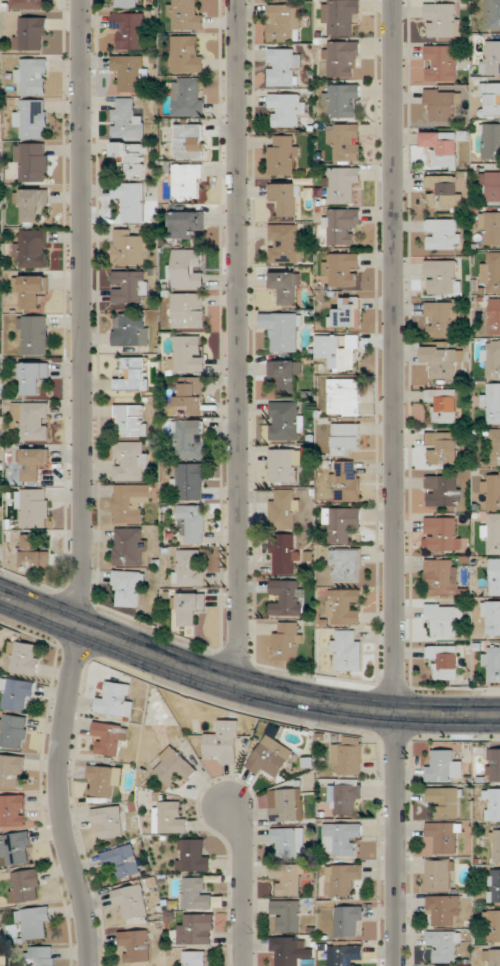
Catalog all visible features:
building: (123, 3)
building: (29, 4)
building: (185, 14)
building: (492, 14)
building: (339, 16)
building: (442, 20)
building: (284, 22)
building: (130, 29)
building: (31, 33)
building: (187, 53)
building: (490, 57)
building: (341, 58)
building: (440, 63)
building: (284, 67)
building: (132, 72)
building: (32, 76)
building: (188, 96)
building: (342, 99)
building: (491, 99)
building: (443, 105)
building: (286, 109)
building: (32, 117)
building: (126, 119)
building: (189, 141)
building: (345, 141)
building: (491, 141)
building: (441, 148)
building: (283, 156)
building: (132, 158)
building: (32, 162)
building: (188, 181)
building: (341, 184)
building: (490, 185)
building: (443, 191)
building: (285, 198)
building: (131, 200)
building: (30, 204)
building: (186, 223)
building: (341, 225)
building: (489, 228)
building: (443, 234)
building: (285, 243)
building: (129, 247)
building: (32, 248)
building: (186, 269)
building: (342, 269)
building: (491, 273)
building: (442, 276)
building: (130, 286)
building: (286, 286)
building: (32, 289)
building: (188, 310)
building: (346, 313)
building: (494, 316)
building: (441, 319)
building: (130, 329)
building: (283, 330)
building: (33, 335)
road: (239, 341)
building: (342, 351)
building: (187, 353)
road: (395, 356)
building: (492, 359)
building: (442, 361)
building: (134, 374)
building: (286, 374)
building: (33, 376)
building: (189, 396)
building: (344, 397)
building: (492, 403)
building: (443, 404)
building: (131, 419)
building: (32, 420)
building: (285, 420)
building: (345, 438)
building: (189, 439)
building: (495, 446)
building: (442, 447)
building: (130, 460)
building: (30, 463)
building: (285, 465)
building: (189, 481)
building: (346, 481)
road: (82, 485)
building: (442, 491)
building: (492, 491)
building: (130, 502)
building: (33, 508)
building: (283, 509)
building: (193, 522)
building: (342, 523)
building: (492, 533)
building: (441, 534)
building: (128, 546)
building: (34, 552)
building: (284, 553)
building: (346, 564)
building: (188, 568)
building: (495, 576)
building: (441, 577)
building: (128, 588)
building: (287, 597)
building: (189, 607)
building: (344, 607)
building: (444, 618)
building: (491, 618)
building: (288, 641)
building: (347, 650)
building: (24, 657)
building: (444, 661)
building: (492, 662)
road: (243, 685)
building: (17, 694)
building: (117, 698)
building: (13, 730)
building: (108, 738)
building: (222, 742)
building: (348, 756)
building: (270, 758)
building: (493, 765)
building: (175, 766)
building: (443, 766)
building: (11, 770)
building: (104, 780)
building: (345, 796)
building: (446, 801)
building: (286, 804)
building: (492, 804)
building: (13, 812)
building: (170, 817)
building: (109, 821)
building: (446, 836)
building: (341, 838)
road: (395, 838)
building: (288, 841)
building: (496, 845)
building: (16, 848)
building: (194, 855)
building: (122, 861)
building: (440, 874)
building: (288, 878)
building: (344, 878)
road: (243, 883)
building: (25, 885)
building: (494, 885)
building: (197, 894)
building: (131, 901)
building: (444, 910)
building: (287, 914)
building: (348, 920)
building: (34, 923)
building: (493, 925)
building: (199, 928)
building: (136, 945)
building: (444, 945)
building: (286, 951)
building: (346, 955)
building: (39, 956)
building: (492, 957)
building: (195, 958)

